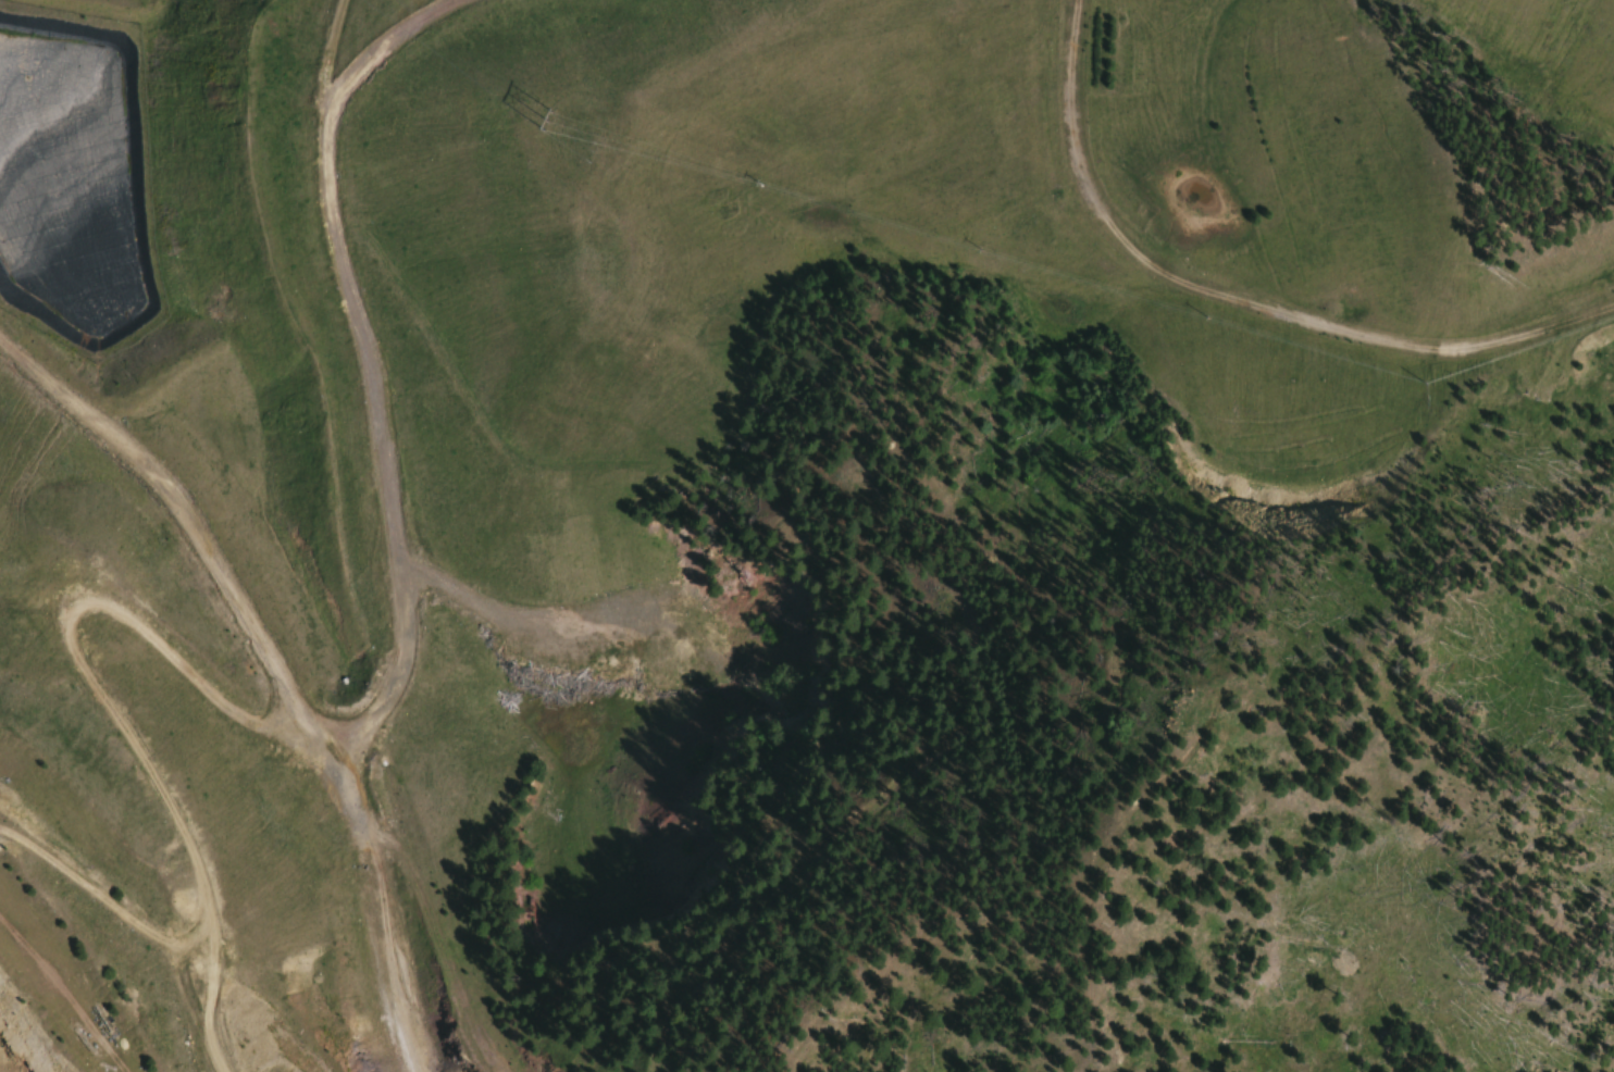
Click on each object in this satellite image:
quarry: (189, 532)

